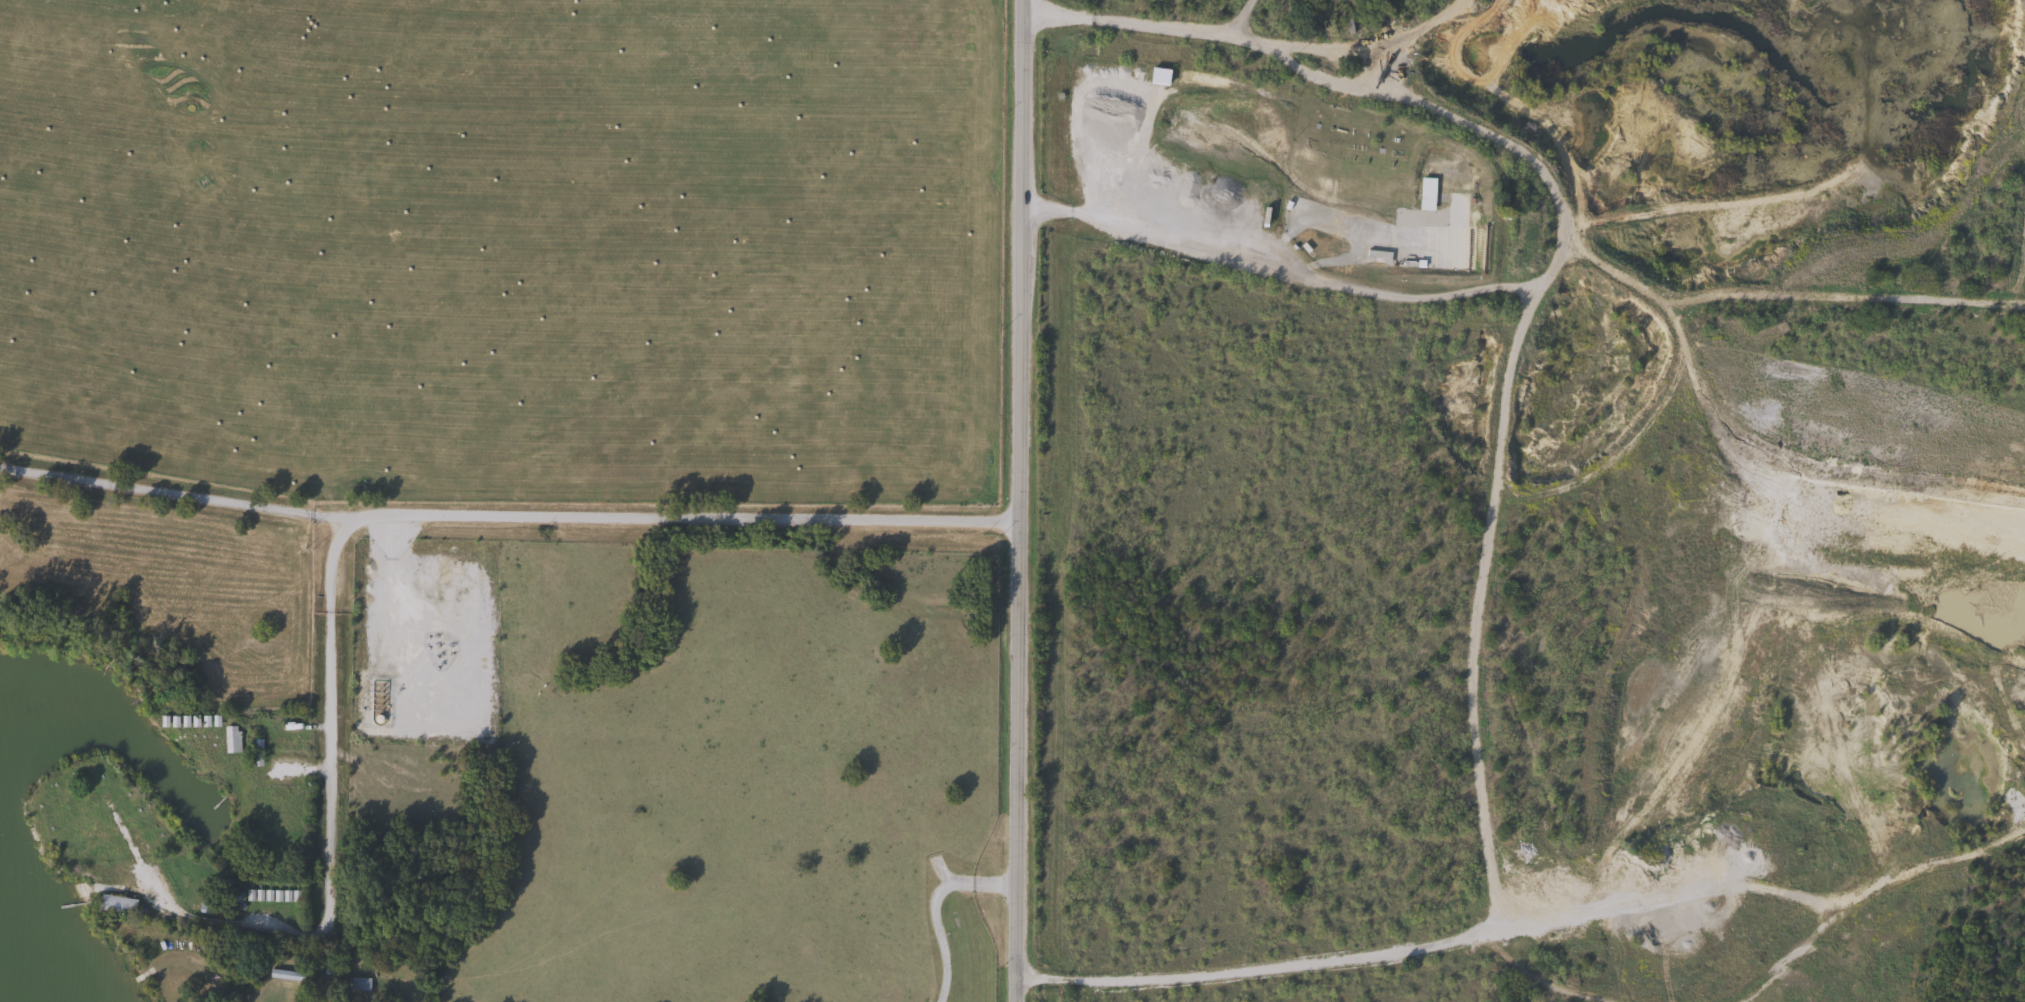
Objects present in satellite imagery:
building: (1292, 204)
road: (1555, 219)
building: (1376, 257)
road: (172, 492)
road: (1019, 501)
road: (679, 514)
building: (230, 739)
building: (254, 752)
road: (326, 762)
road: (1489, 850)
building: (231, 899)
building: (114, 905)
road: (933, 907)
building: (284, 975)
building: (358, 984)

